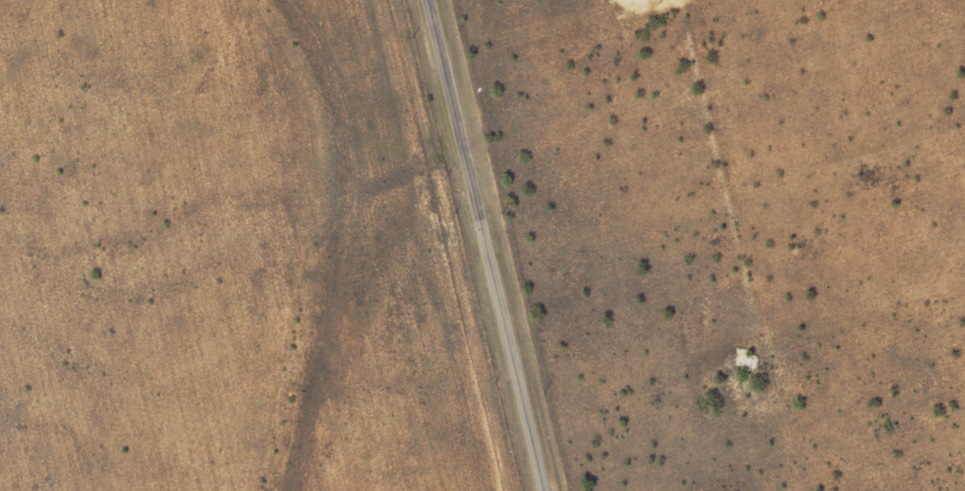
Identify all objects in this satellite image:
road: (494, 245)

